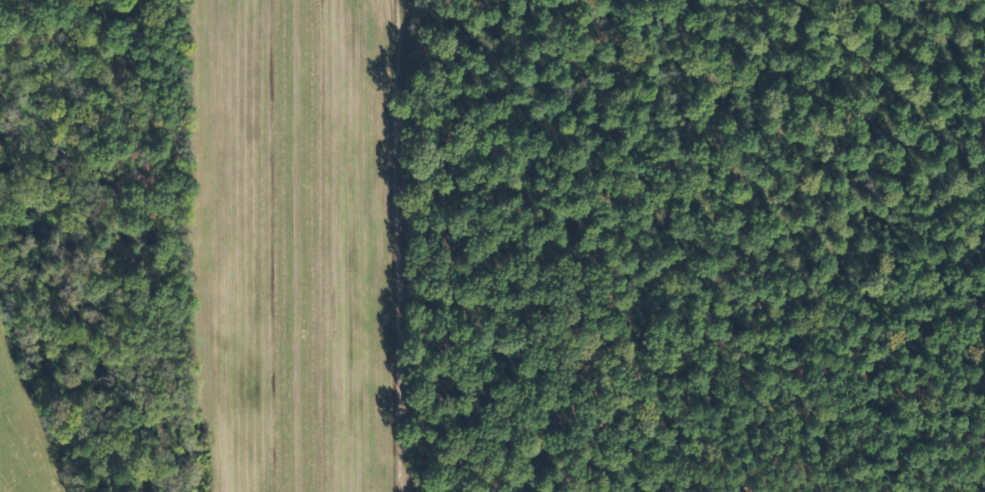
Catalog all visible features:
road: (888, 417)

